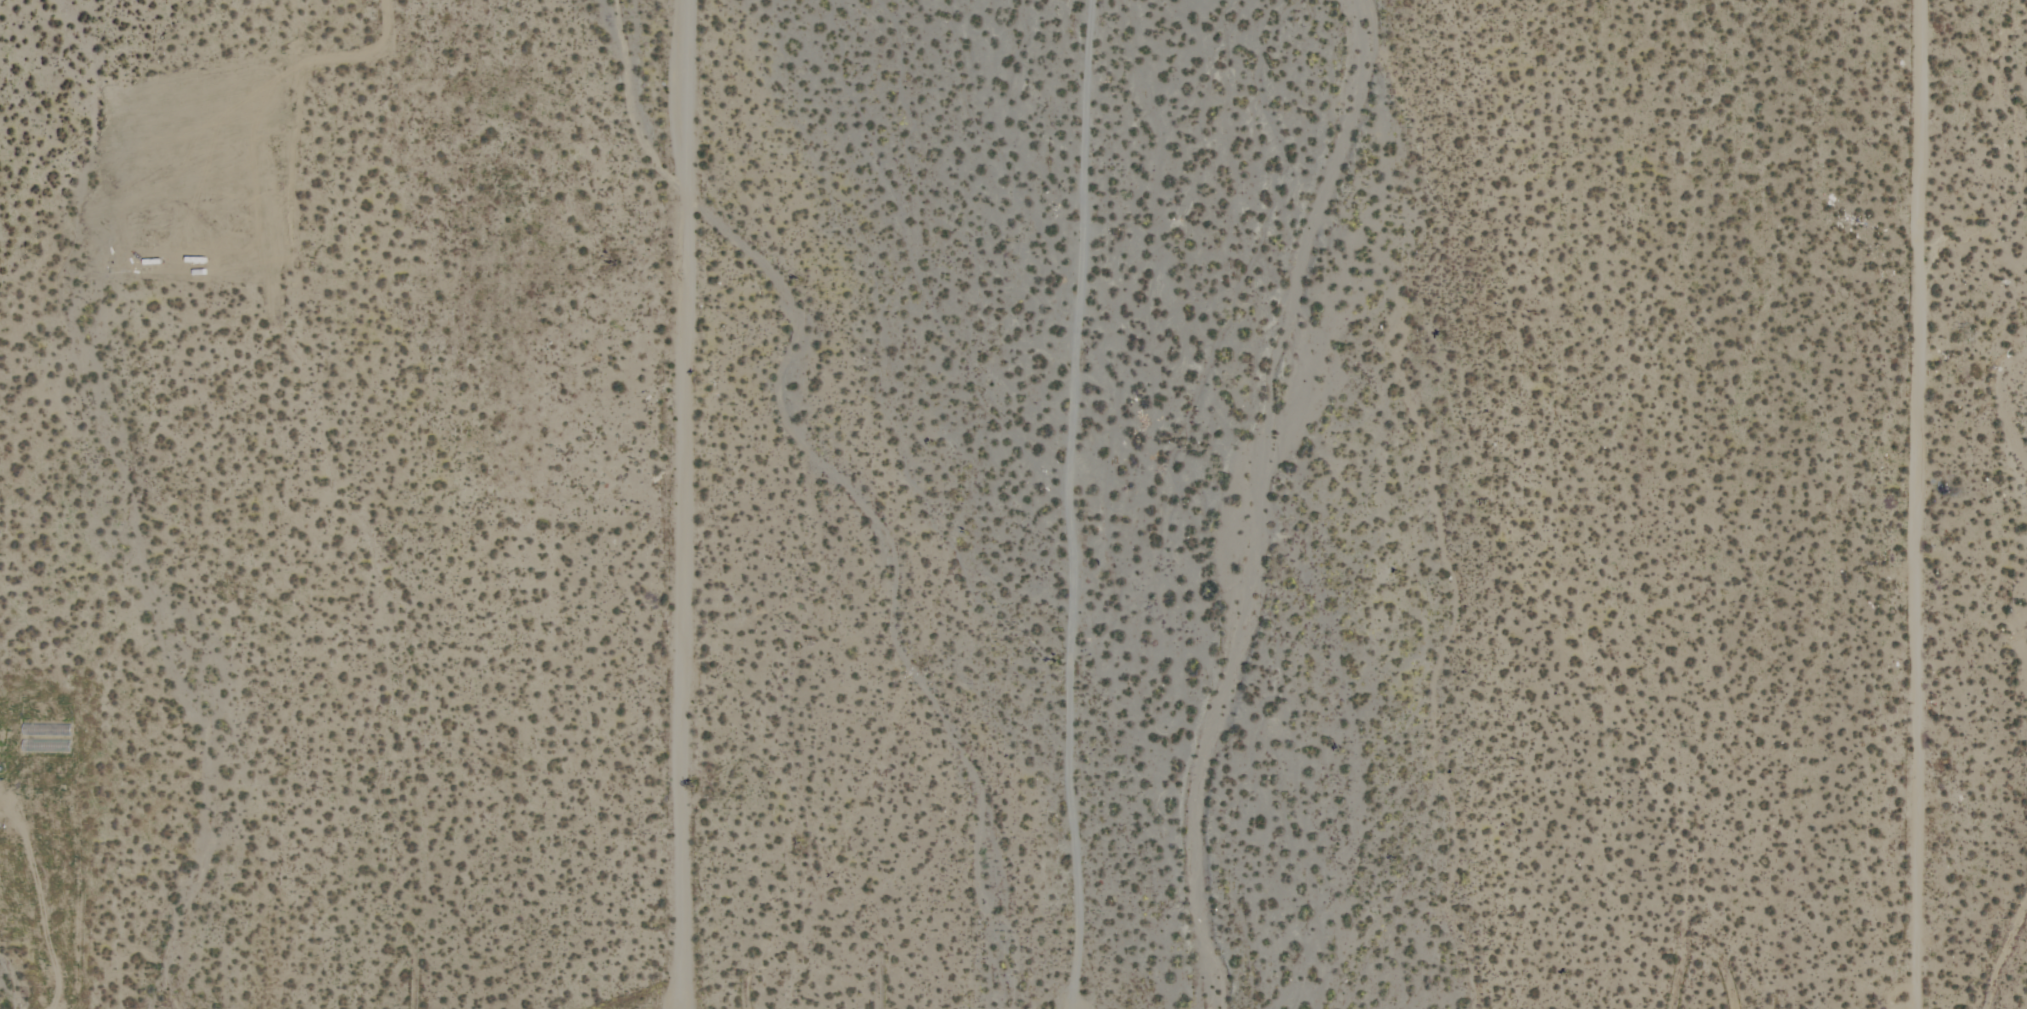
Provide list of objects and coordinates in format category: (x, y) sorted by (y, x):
road: (682, 504)
road: (1912, 504)

